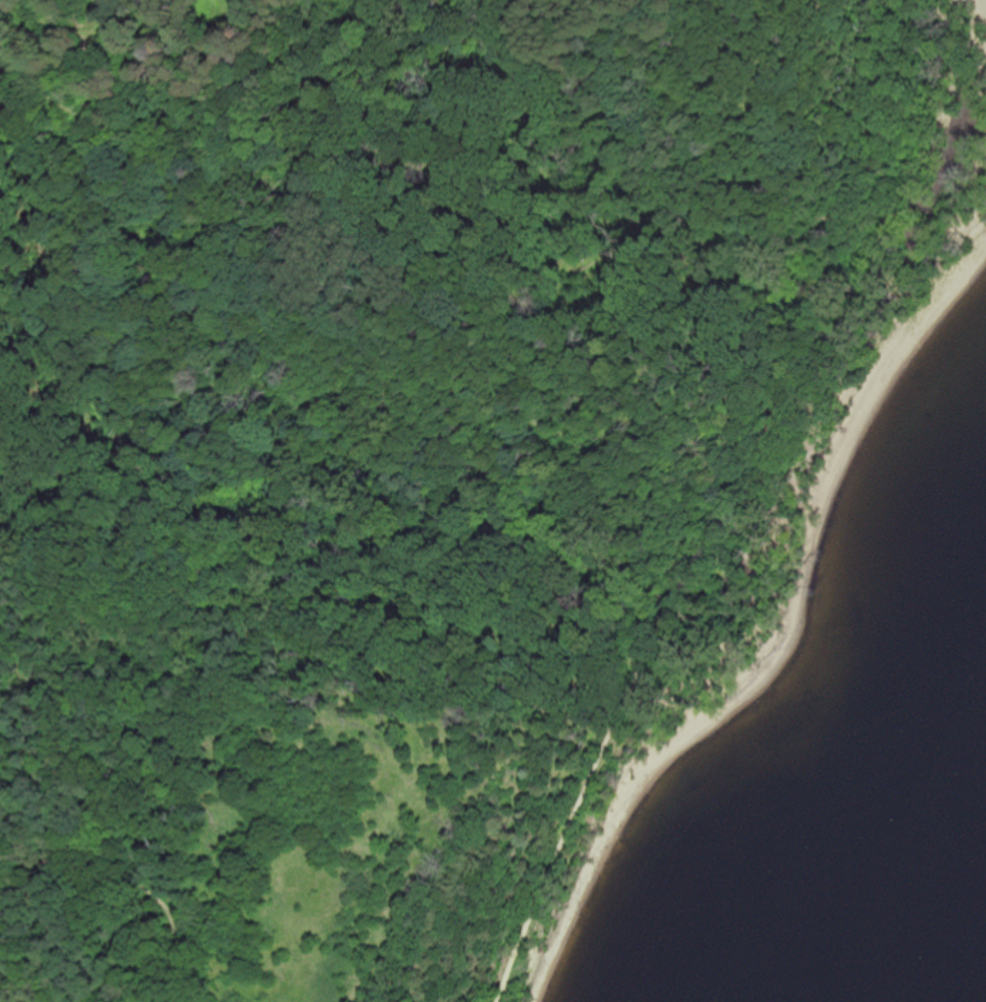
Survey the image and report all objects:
road: (40, 90)
road: (560, 133)
road: (300, 332)
road: (780, 404)
park: (425, 451)
road: (671, 605)
road: (568, 815)
road: (133, 854)

